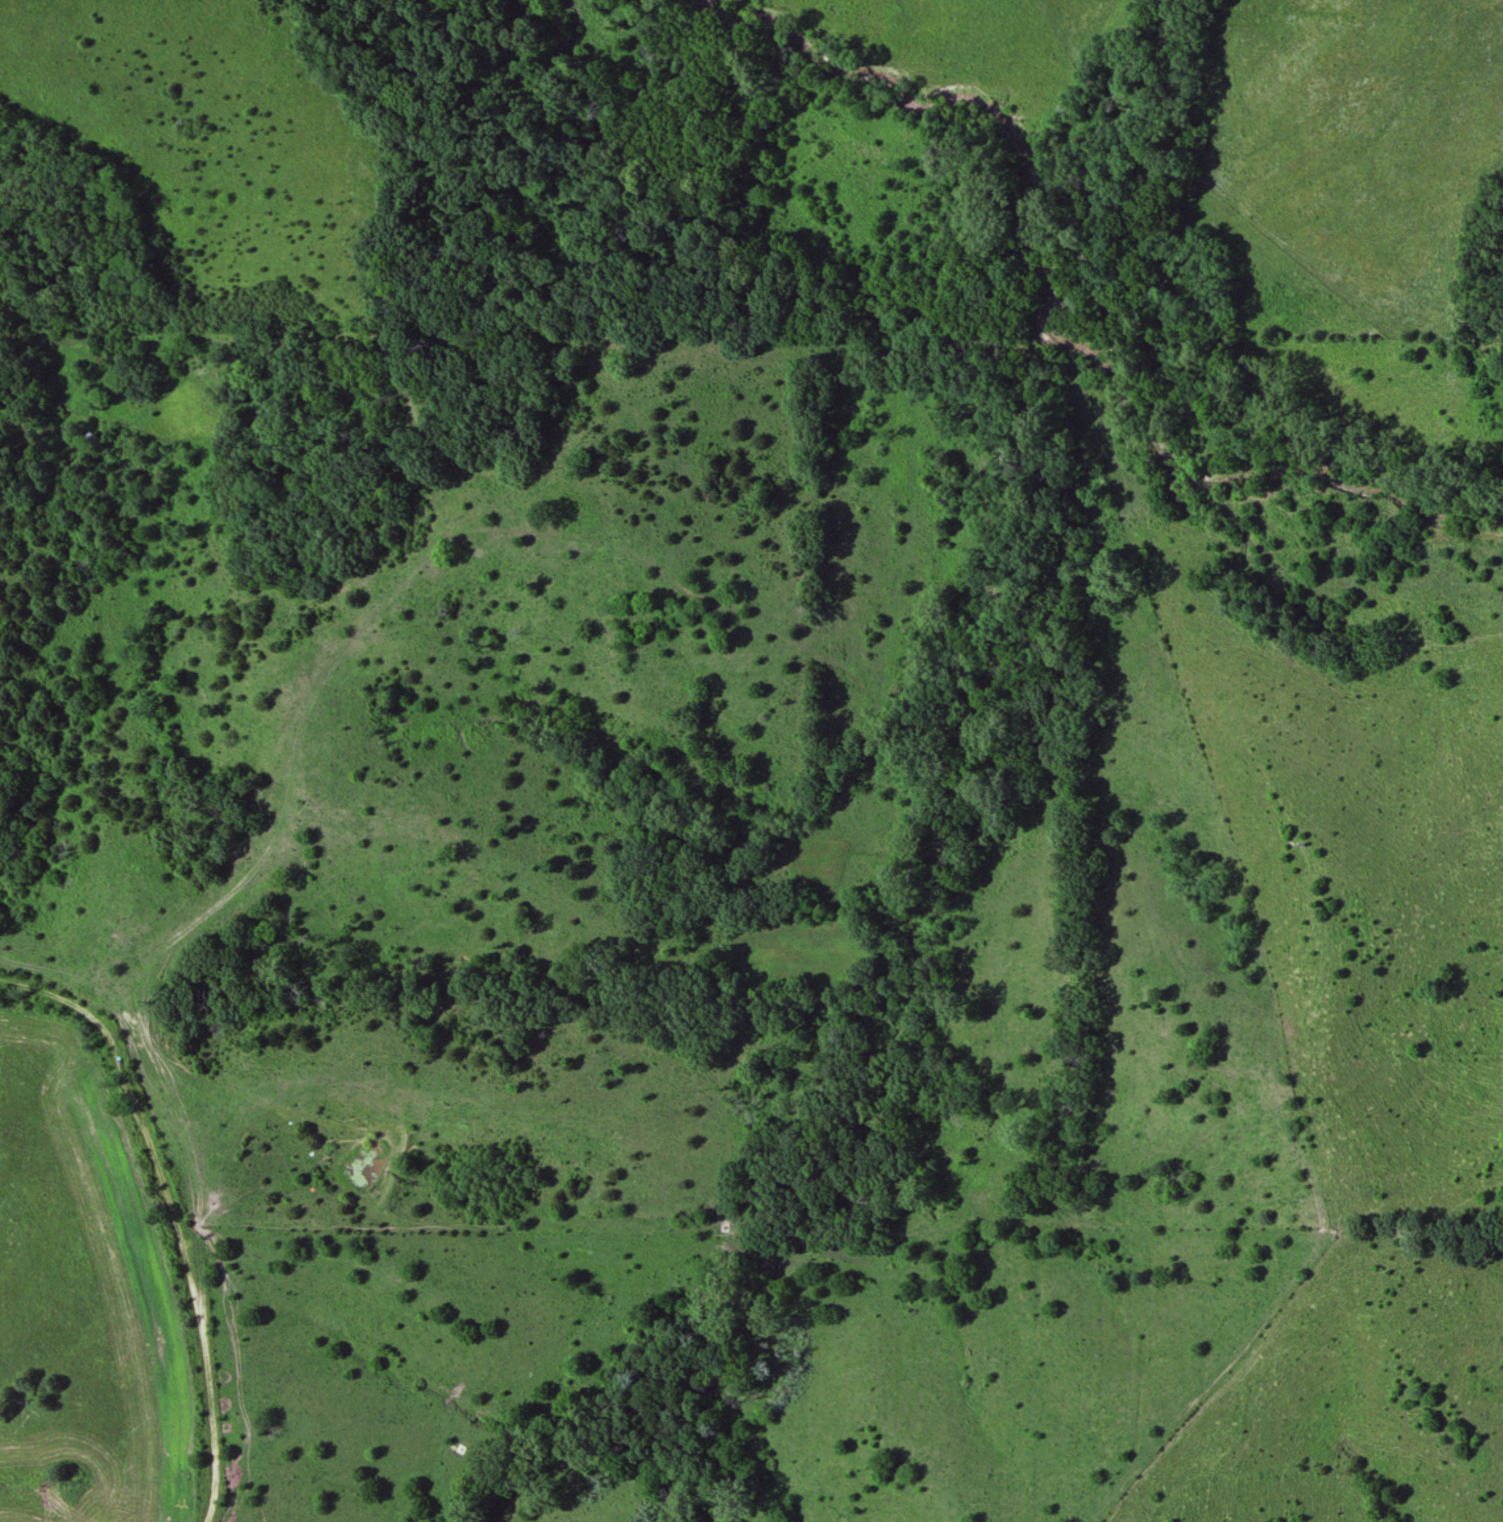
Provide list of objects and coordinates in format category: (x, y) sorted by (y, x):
road: (178, 1212)

